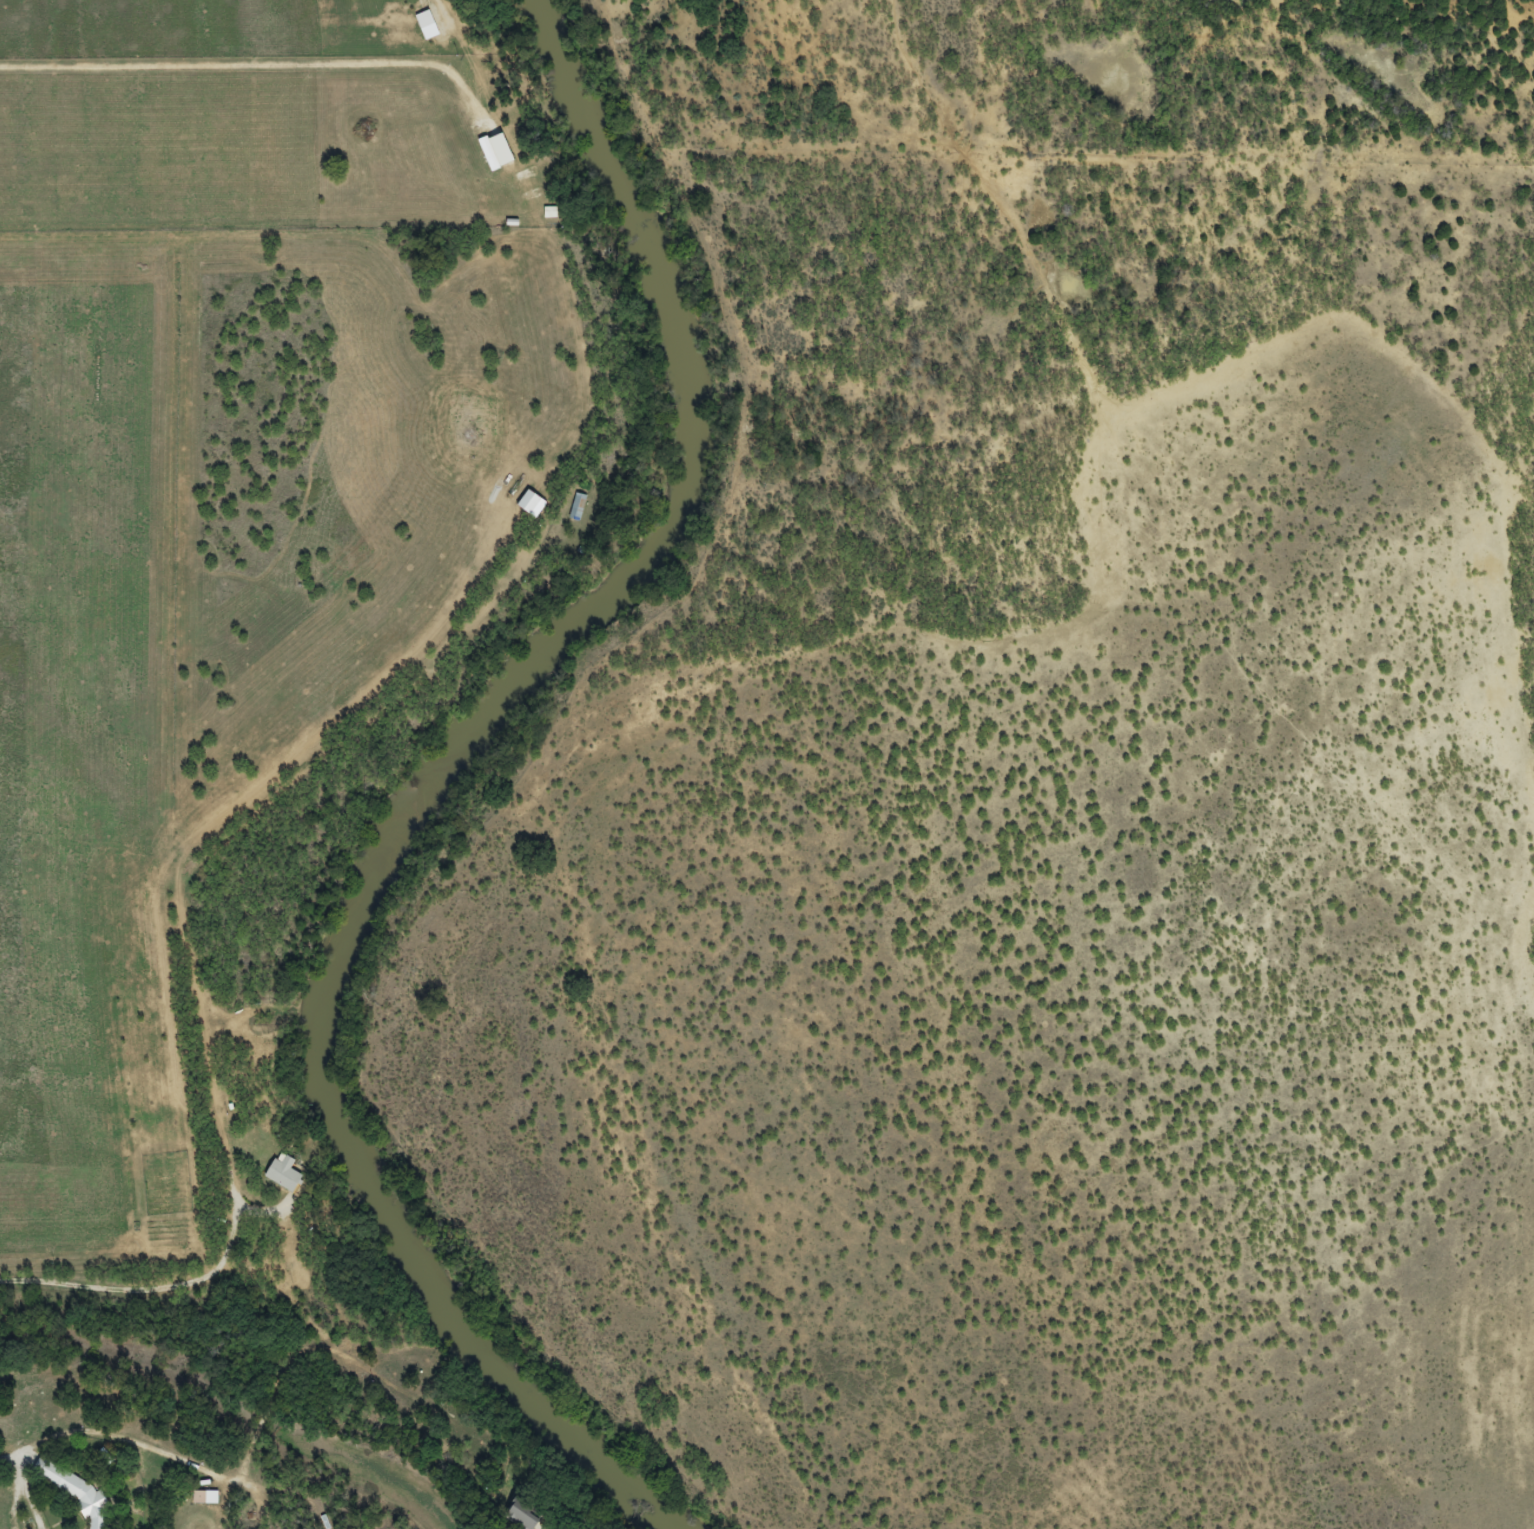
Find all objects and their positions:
building: (496, 152)
road: (1454, 446)
building: (529, 503)
building: (577, 509)
building: (284, 1175)
road: (282, 1297)
building: (76, 1492)
building: (205, 1498)
building: (524, 1514)

